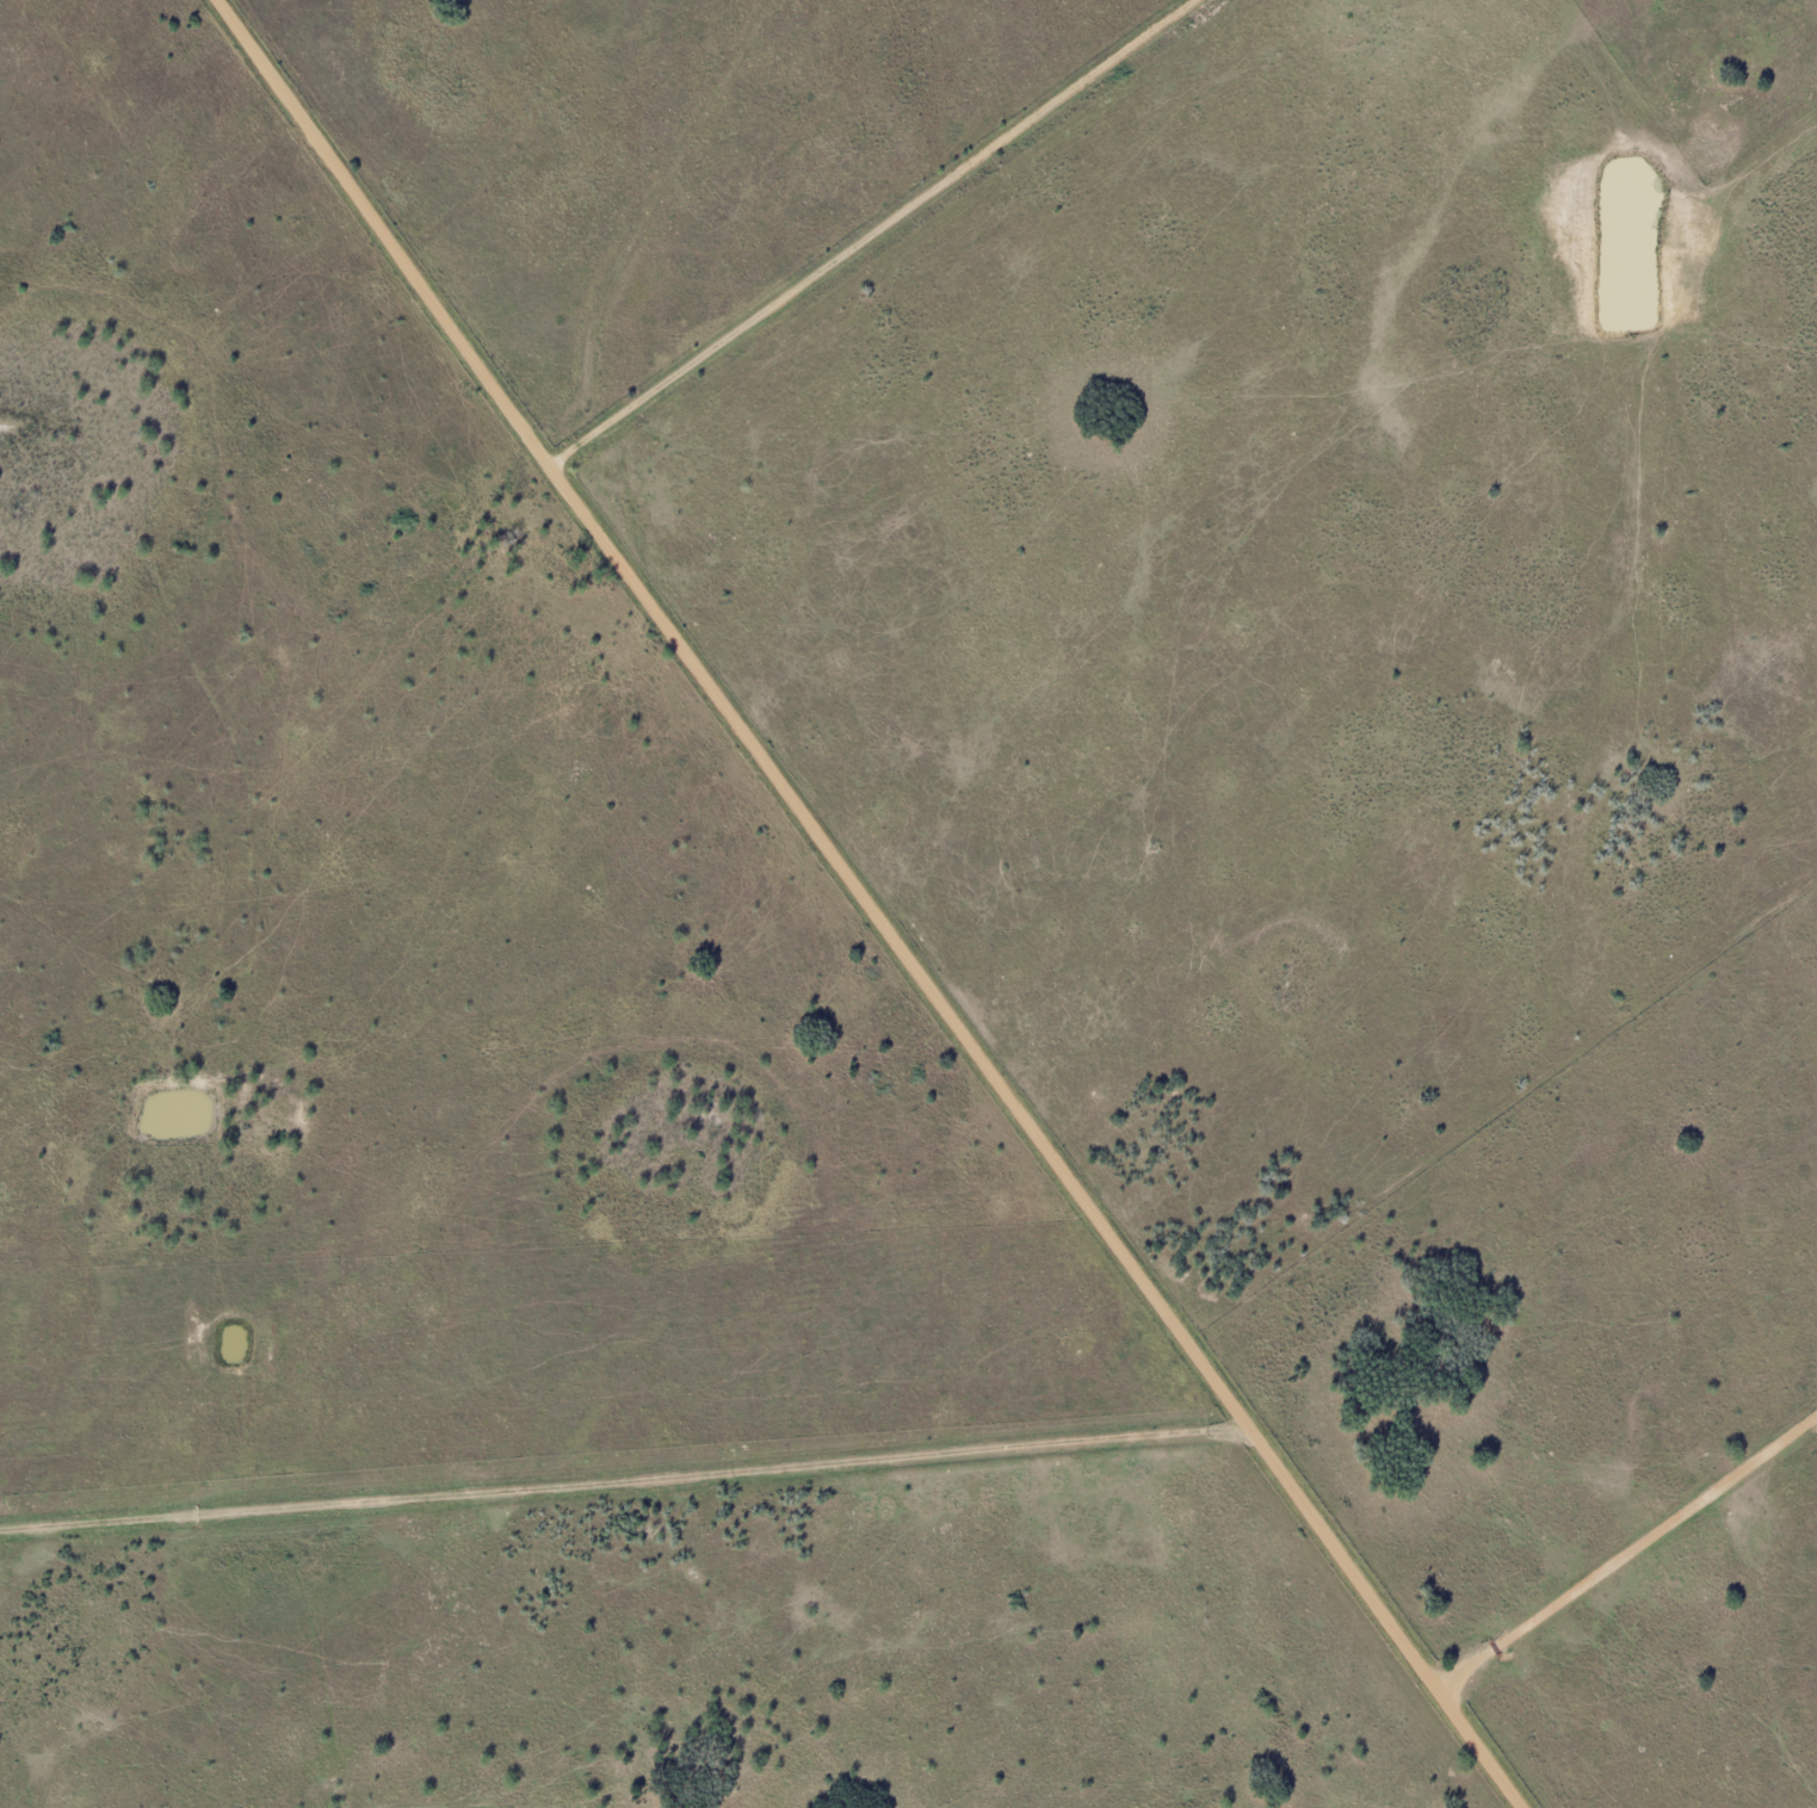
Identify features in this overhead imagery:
road: (876, 904)
road: (1645, 1605)

